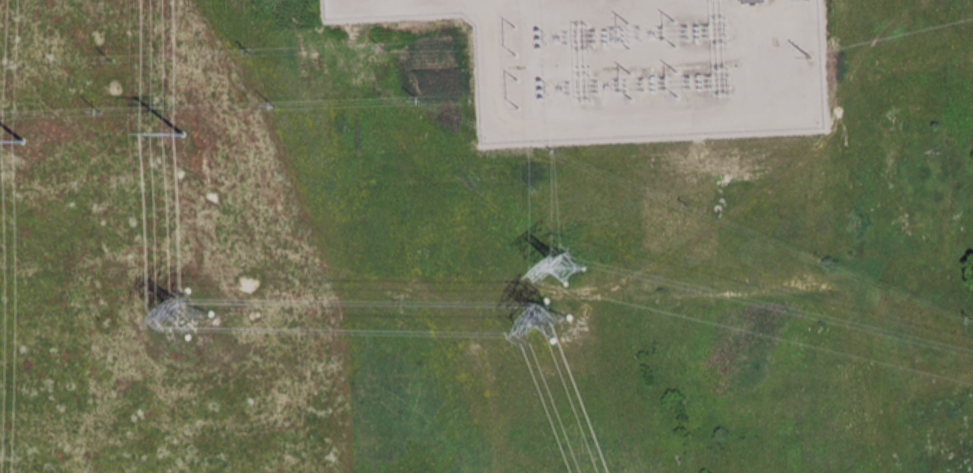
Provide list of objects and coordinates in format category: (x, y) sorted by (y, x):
building: (756, 1)
power tower: (809, 1)
power tower: (810, 59)
power substation: (656, 63)
road: (738, 113)
power tower: (188, 136)
power tower: (25, 141)
power tower: (569, 265)
power tower: (188, 315)
power tower: (555, 322)

